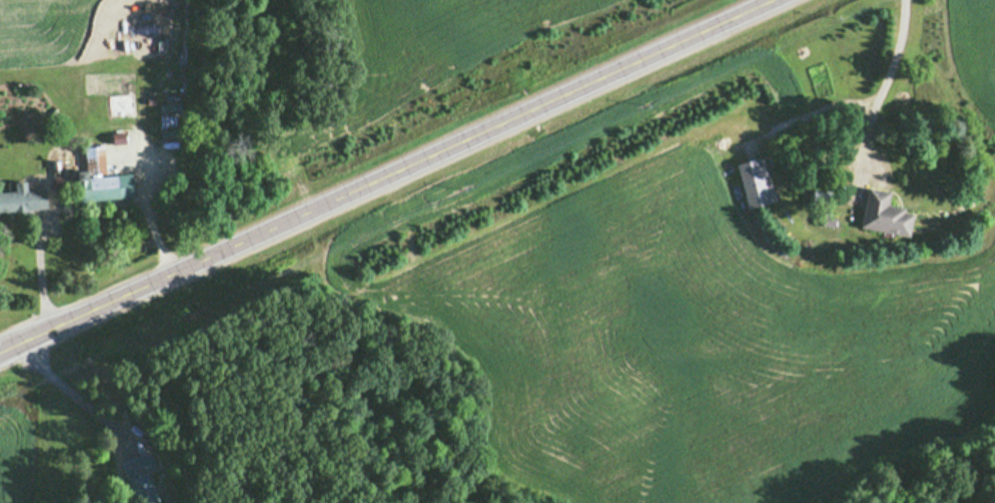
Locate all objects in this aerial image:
road: (862, 105)
road: (385, 176)
building: (99, 178)
building: (754, 181)
building: (21, 199)
building: (883, 214)
building: (141, 478)

